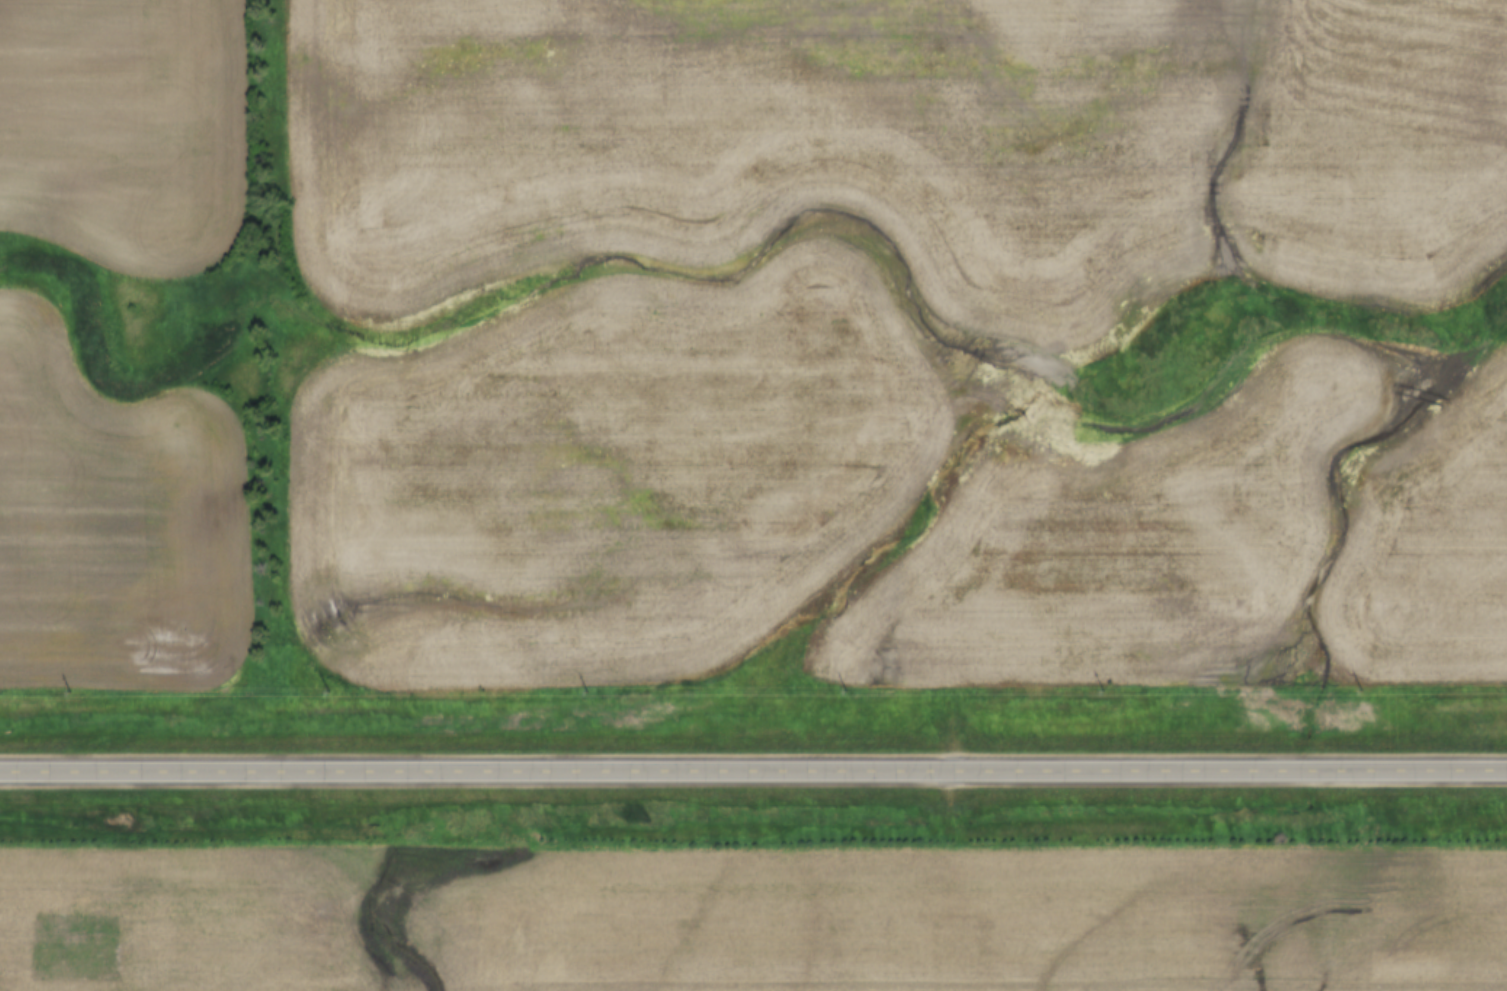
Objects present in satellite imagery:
road: (753, 772)

